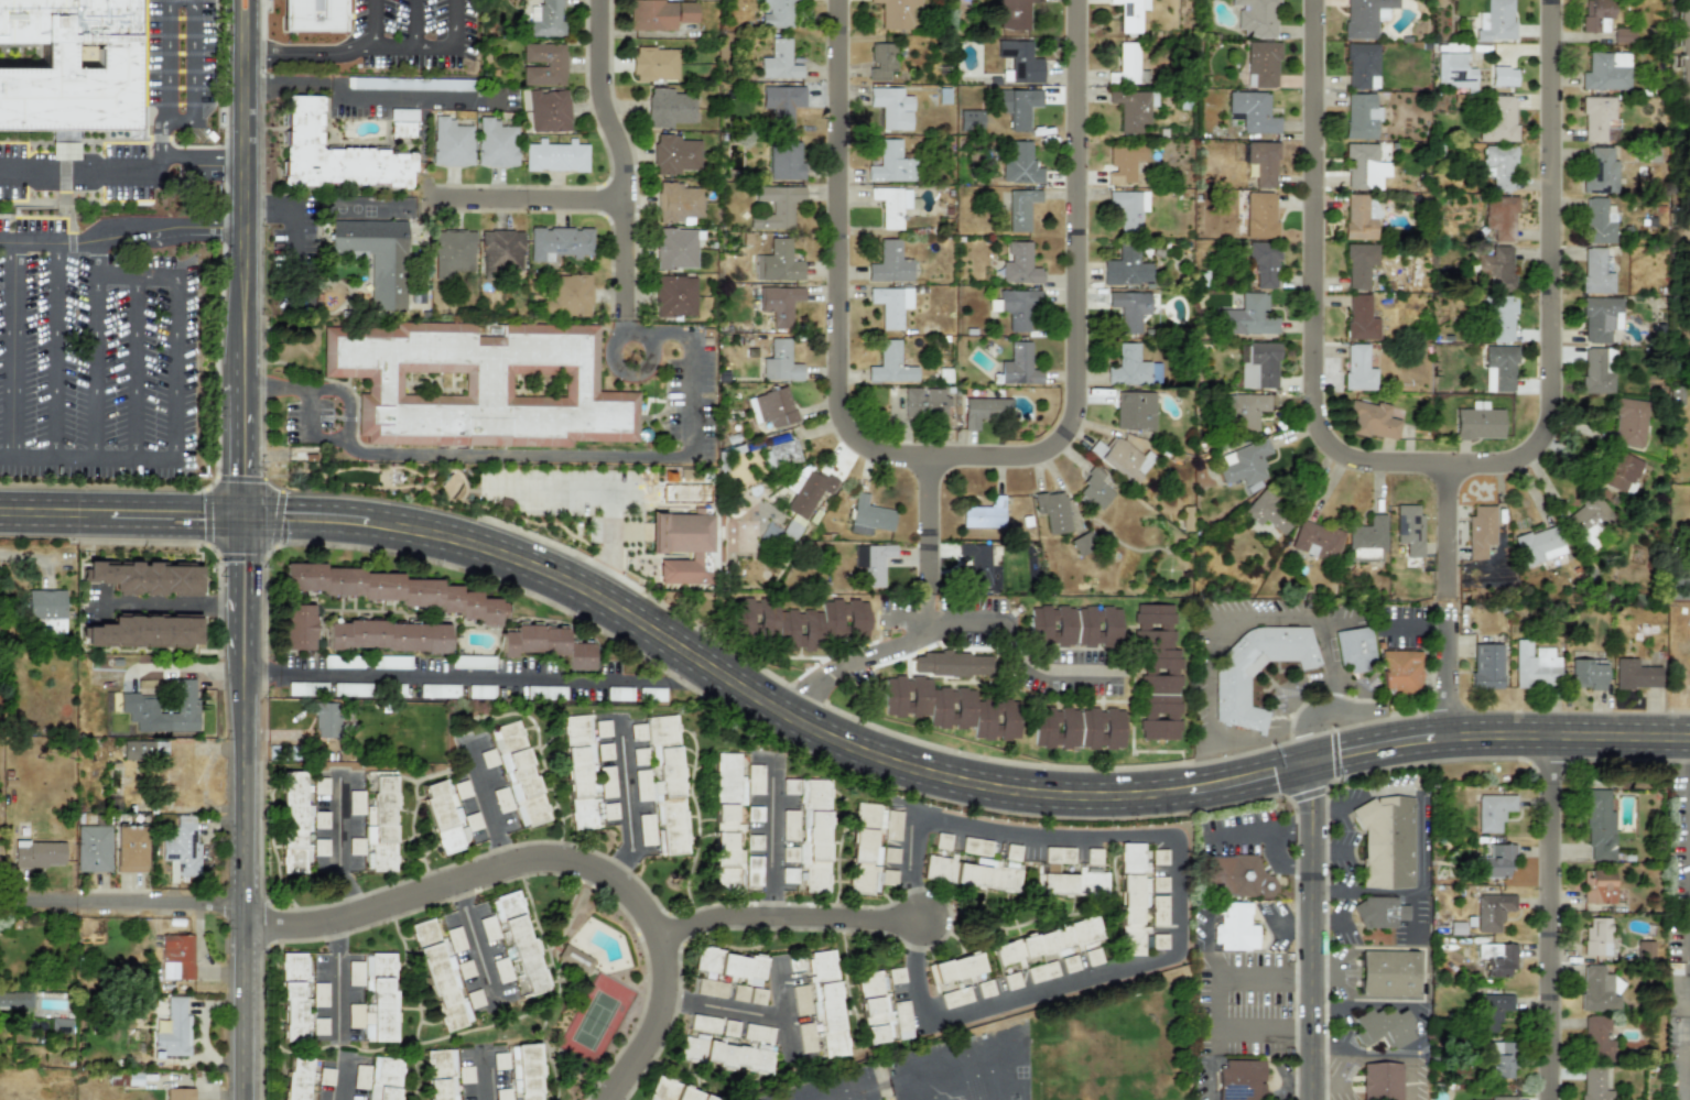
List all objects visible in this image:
road: (250, 11)
road: (237, 12)
building: (777, 13)
building: (896, 13)
building: (660, 14)
building: (1014, 14)
building: (1130, 14)
building: (1595, 14)
building: (315, 15)
building: (1365, 17)
building: (548, 19)
building: (1257, 19)
road: (373, 21)
building: (1495, 21)
road: (414, 22)
road: (451, 22)
building: (1622, 35)
road: (347, 44)
building: (1683, 59)
building: (881, 61)
building: (1020, 61)
building: (779, 62)
building: (553, 64)
building: (654, 64)
building: (1129, 64)
building: (1261, 64)
building: (69, 65)
building: (1362, 66)
building: (1453, 72)
building: (1606, 72)
building: (1503, 76)
building: (409, 84)
road: (371, 98)
building: (780, 104)
building: (1018, 107)
building: (668, 108)
building: (891, 108)
building: (1133, 109)
building: (549, 110)
building: (1252, 112)
building: (1361, 116)
building: (1499, 120)
building: (1599, 120)
building: (971, 121)
road: (178, 122)
road: (162, 143)
building: (451, 143)
building: (495, 144)
building: (334, 154)
building: (674, 154)
building: (555, 156)
building: (784, 161)
building: (1124, 163)
building: (1263, 163)
building: (891, 164)
road: (203, 165)
building: (1020, 165)
building: (1499, 166)
building: (1364, 167)
road: (80, 172)
building: (1600, 172)
road: (619, 174)
road: (523, 198)
building: (676, 202)
building: (892, 205)
building: (776, 206)
building: (1020, 208)
building: (1128, 208)
road: (293, 215)
building: (1260, 215)
building: (1361, 217)
building: (1499, 218)
building: (1599, 220)
road: (159, 229)
road: (36, 242)
building: (559, 242)
building: (674, 248)
building: (500, 252)
building: (452, 253)
building: (377, 258)
building: (777, 262)
building: (890, 263)
building: (1264, 263)
building: (1359, 264)
building: (1019, 265)
road: (835, 266)
building: (1126, 268)
building: (1497, 268)
road: (245, 270)
building: (1595, 272)
road: (1548, 275)
road: (116, 277)
road: (1313, 291)
road: (1073, 293)
building: (567, 295)
building: (674, 295)
building: (779, 304)
building: (891, 305)
building: (1016, 307)
building: (1129, 309)
building: (1249, 316)
building: (1361, 318)
building: (1502, 318)
building: (1600, 318)
road: (95, 348)
road: (13, 349)
road: (55, 350)
building: (780, 362)
building: (890, 364)
building: (1019, 366)
building: (1258, 366)
road: (134, 368)
road: (174, 368)
building: (1133, 368)
building: (1358, 369)
building: (1498, 369)
building: (1597, 370)
building: (478, 385)
building: (923, 403)
building: (772, 407)
building: (985, 411)
building: (1135, 411)
building: (1245, 411)
building: (1373, 420)
building: (1629, 423)
building: (1478, 424)
road: (307, 429)
building: (780, 454)
road: (66, 457)
road: (529, 457)
building: (1122, 459)
building: (1245, 465)
building: (1621, 472)
building: (1095, 488)
building: (808, 491)
building: (680, 493)
building: (1053, 511)
building: (1268, 513)
road: (122, 514)
building: (984, 514)
building: (869, 516)
road: (930, 525)
building: (1480, 531)
building: (1409, 532)
road: (1445, 533)
building: (1367, 540)
building: (1317, 541)
building: (1539, 545)
building: (681, 546)
road: (30, 558)
building: (873, 562)
building: (977, 562)
building: (143, 578)
building: (392, 590)
road: (1445, 603)
road: (174, 608)
building: (45, 612)
road: (435, 617)
road: (1265, 619)
building: (801, 622)
building: (297, 627)
road: (321, 627)
building: (1074, 627)
building: (142, 632)
building: (387, 635)
building: (546, 645)
building: (1354, 647)
road: (878, 649)
building: (342, 662)
building: (390, 662)
building: (472, 662)
building: (951, 664)
building: (1535, 665)
building: (1485, 666)
road: (180, 667)
road: (1050, 669)
building: (1158, 672)
building: (1400, 672)
building: (1586, 674)
building: (1635, 674)
road: (487, 676)
road: (1447, 676)
road: (1341, 683)
building: (303, 688)
building: (1232, 688)
building: (350, 689)
building: (437, 690)
building: (479, 691)
building: (544, 691)
building: (618, 694)
building: (138, 703)
road: (1209, 704)
building: (950, 707)
road: (1678, 710)
building: (326, 719)
building: (1077, 728)
building: (602, 729)
building: (638, 732)
building: (140, 749)
road: (1689, 750)
building: (604, 751)
building: (639, 756)
building: (487, 758)
road: (1634, 760)
road: (1689, 762)
building: (578, 770)
building: (518, 774)
road: (263, 776)
road: (941, 776)
building: (754, 778)
building: (728, 780)
building: (606, 782)
building: (668, 784)
building: (642, 785)
building: (319, 786)
building: (789, 786)
building: (501, 799)
building: (355, 803)
road: (627, 803)
road: (243, 807)
road: (489, 808)
building: (1493, 810)
building: (606, 813)
building: (754, 814)
building: (448, 815)
building: (315, 819)
building: (877, 819)
building: (380, 823)
building: (293, 824)
building: (1599, 825)
building: (646, 829)
road: (1304, 829)
road: (1325, 829)
road: (1254, 830)
building: (810, 832)
building: (725, 836)
road: (772, 840)
building: (942, 841)
building: (1385, 841)
building: (754, 842)
building: (356, 846)
building: (182, 847)
building: (319, 847)
building: (975, 847)
building: (93, 848)
building: (129, 848)
building: (1011, 852)
building: (36, 853)
building: (789, 854)
building: (1093, 856)
building: (1158, 857)
road: (552, 859)
building: (1497, 860)
building: (869, 863)
road: (1277, 865)
building: (752, 871)
building: (955, 872)
building: (1055, 873)
building: (788, 875)
building: (1234, 876)
building: (1005, 879)
road: (1689, 879)
building: (1092, 883)
building: (1597, 886)
building: (1135, 894)
road: (1173, 896)
road: (1296, 902)
road: (122, 903)
building: (1158, 910)
building: (1492, 911)
building: (1379, 913)
road: (1551, 917)
road: (789, 918)
building: (1234, 927)
building: (487, 928)
road: (1313, 930)
building: (449, 935)
building: (1596, 936)
road: (474, 941)
building: (1049, 941)
building: (521, 945)
road: (1204, 946)
building: (1645, 949)
building: (1092, 956)
building: (175, 957)
building: (1496, 958)
building: (575, 959)
building: (1069, 963)
building: (730, 966)
building: (955, 969)
building: (501, 970)
building: (1041, 971)
building: (355, 973)
building: (1388, 973)
road: (1304, 974)
building: (444, 978)
road: (335, 979)
building: (1010, 981)
building: (709, 988)
building: (985, 989)
building: (1600, 990)
building: (318, 994)
building: (747, 994)
building: (293, 996)
building: (955, 998)
building: (15, 1000)
building: (376, 1000)
building: (800, 1000)
road: (1296, 1004)
road: (1216, 1005)
road: (746, 1006)
building: (882, 1006)
building: (823, 1009)
building: (1492, 1010)
building: (704, 1024)
building: (59, 1025)
building: (318, 1026)
building: (1383, 1027)
building: (174, 1028)
building: (729, 1028)
building: (1048, 1028)
road: (1304, 1035)
building: (1000, 1036)
building: (1597, 1038)
road: (1689, 1048)
building: (732, 1050)
building: (1049, 1050)
building: (946, 1052)
building: (500, 1060)
building: (1499, 1060)
building: (904, 1064)
road: (1294, 1067)
building: (524, 1071)
building: (1049, 1071)
building: (441, 1075)
building: (464, 1075)
building: (325, 1076)
building: (360, 1077)
building: (296, 1078)
building: (383, 1078)
road: (480, 1078)
building: (1241, 1079)
building: (1380, 1081)
road: (343, 1083)
building: (1594, 1083)
building: (982, 1086)
road: (851, 1089)
building: (957, 1089)
building: (675, 1091)
building: (1049, 1091)
building: (178, 1093)
building: (502, 1093)
building: (925, 1096)
building: (1491, 1099)

